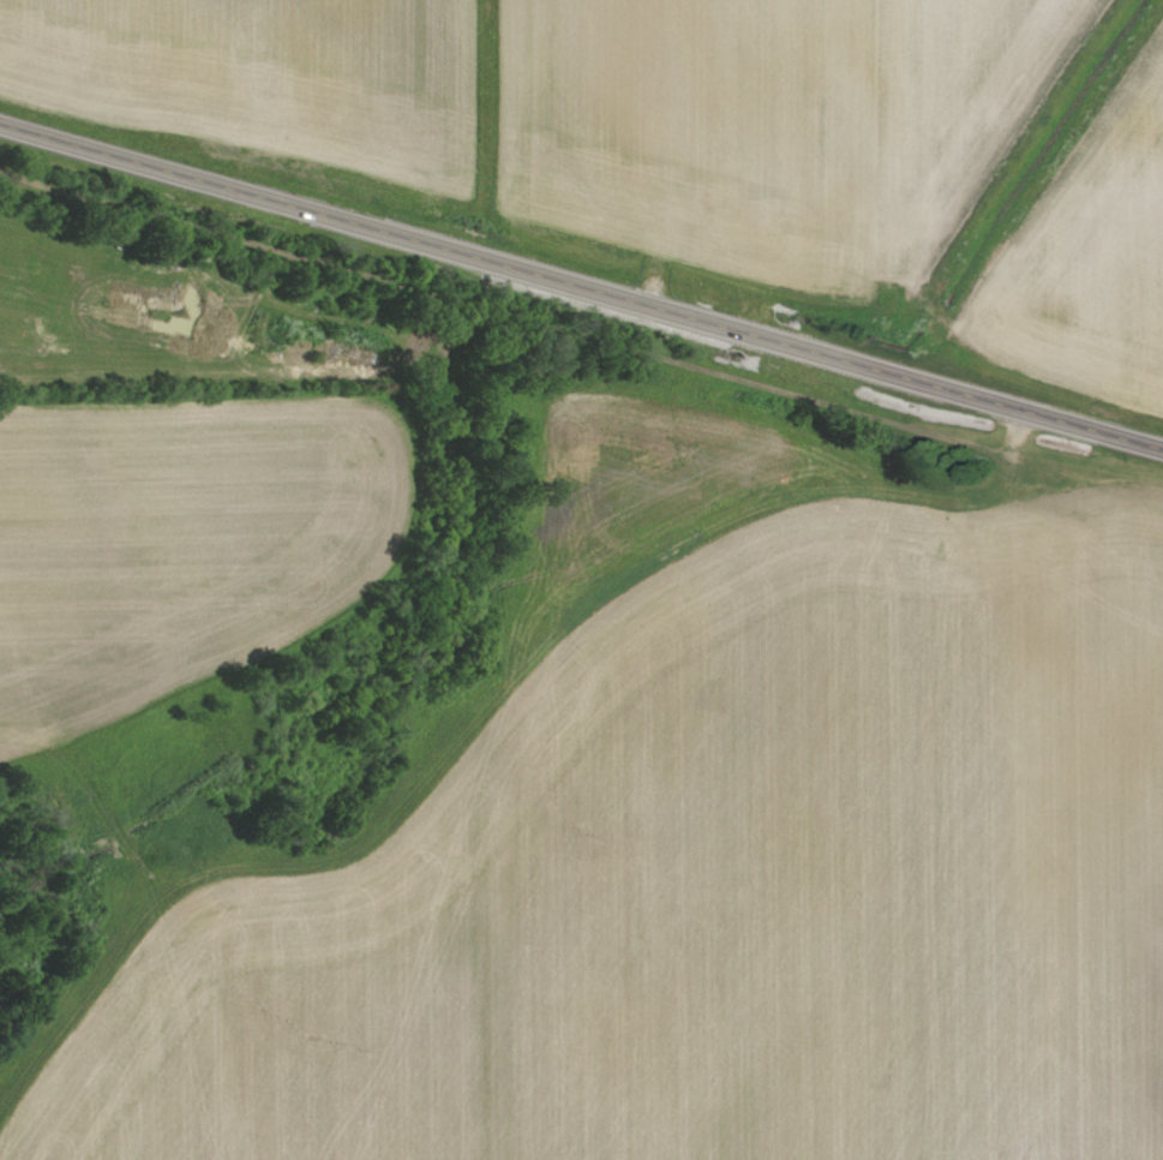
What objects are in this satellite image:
road: (581, 287)

